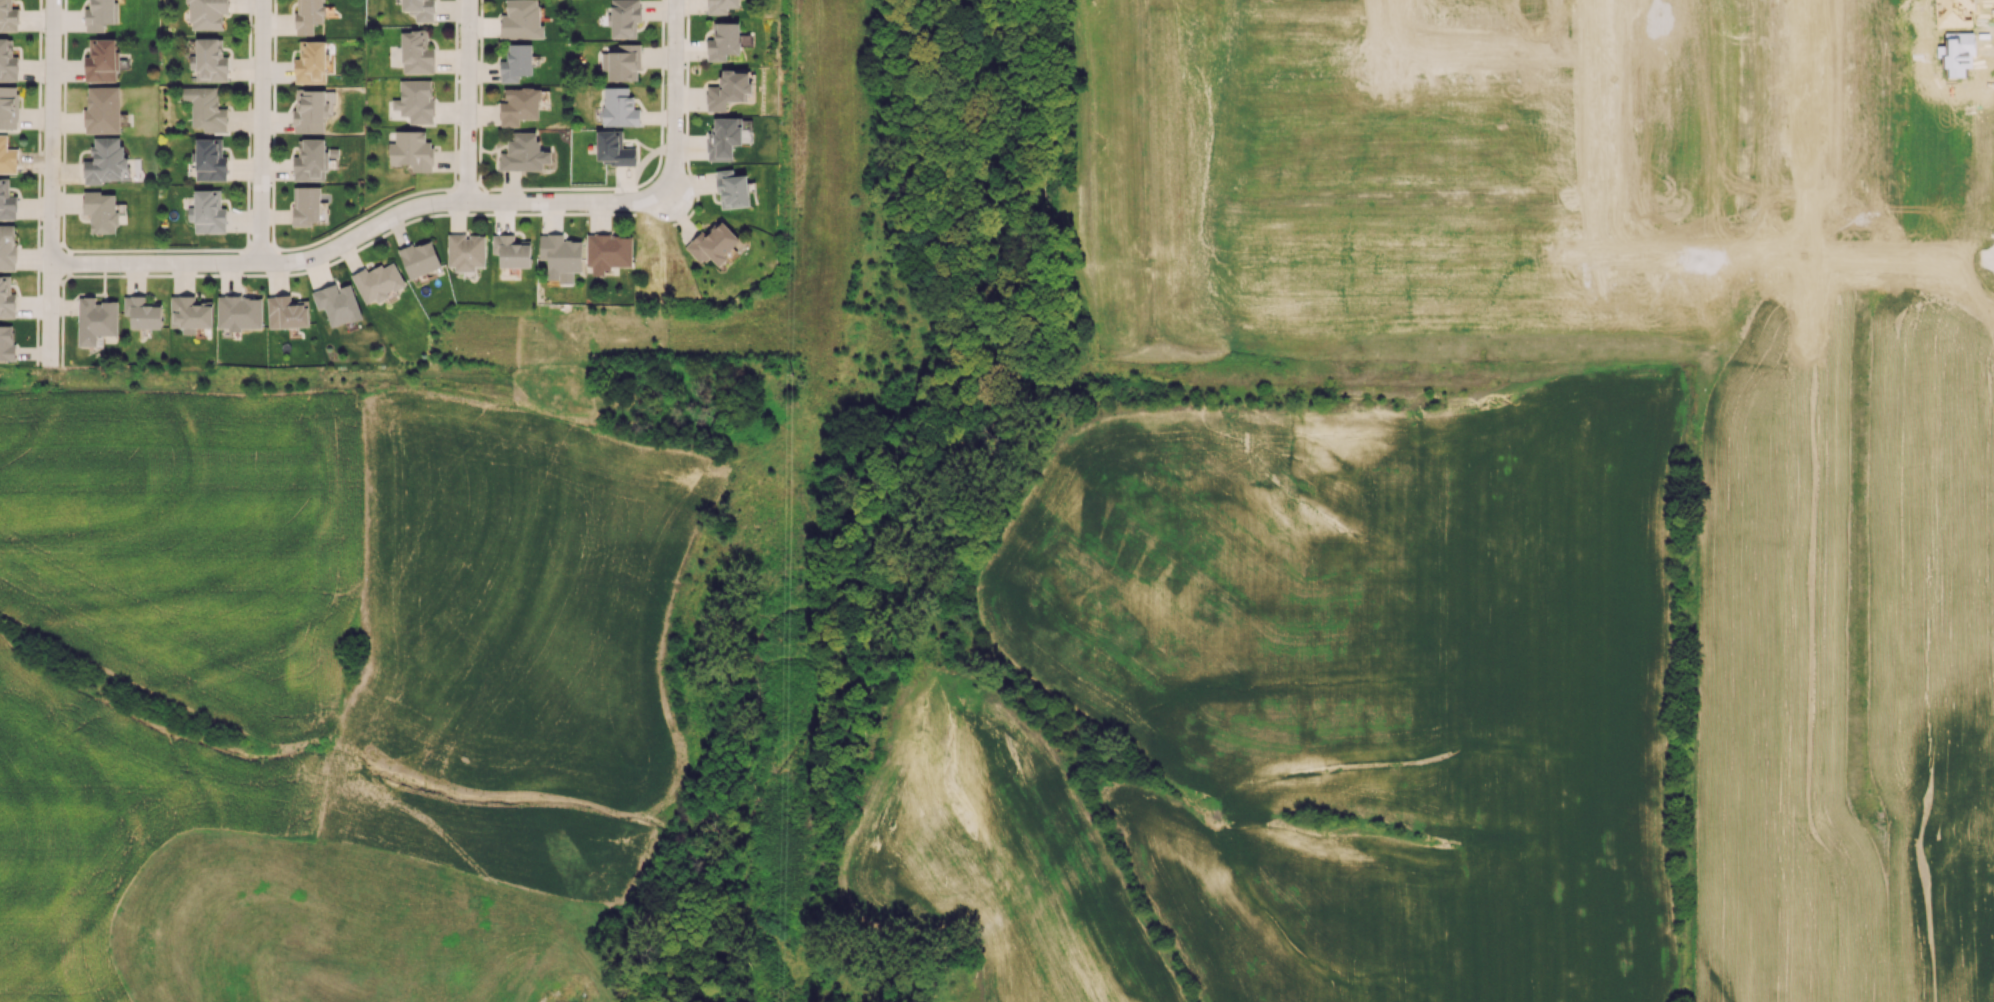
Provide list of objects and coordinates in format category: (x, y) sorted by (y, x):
building: (720, 6)
building: (419, 9)
building: (206, 14)
building: (100, 15)
building: (8, 16)
building: (309, 16)
building: (624, 18)
building: (521, 19)
building: (723, 41)
building: (416, 52)
building: (7, 60)
building: (101, 60)
building: (209, 60)
building: (310, 62)
building: (516, 63)
building: (624, 63)
building: (728, 89)
road: (678, 96)
road: (473, 98)
building: (414, 101)
building: (519, 105)
building: (8, 107)
building: (618, 107)
building: (205, 109)
building: (102, 110)
building: (311, 110)
road: (266, 130)
building: (723, 138)
building: (612, 148)
building: (411, 150)
building: (523, 153)
building: (7, 157)
building: (312, 159)
building: (209, 160)
building: (104, 161)
road: (58, 179)
building: (731, 189)
building: (6, 201)
building: (306, 205)
building: (207, 212)
road: (365, 237)
building: (712, 244)
building: (7, 247)
building: (465, 251)
building: (511, 251)
building: (608, 252)
building: (560, 257)
building: (419, 258)
building: (378, 282)
building: (6, 298)
building: (337, 304)
building: (142, 312)
building: (239, 312)
building: (287, 312)
building: (189, 313)
building: (95, 320)
building: (6, 342)
crop: (316, 669)
dam: (303, 987)

